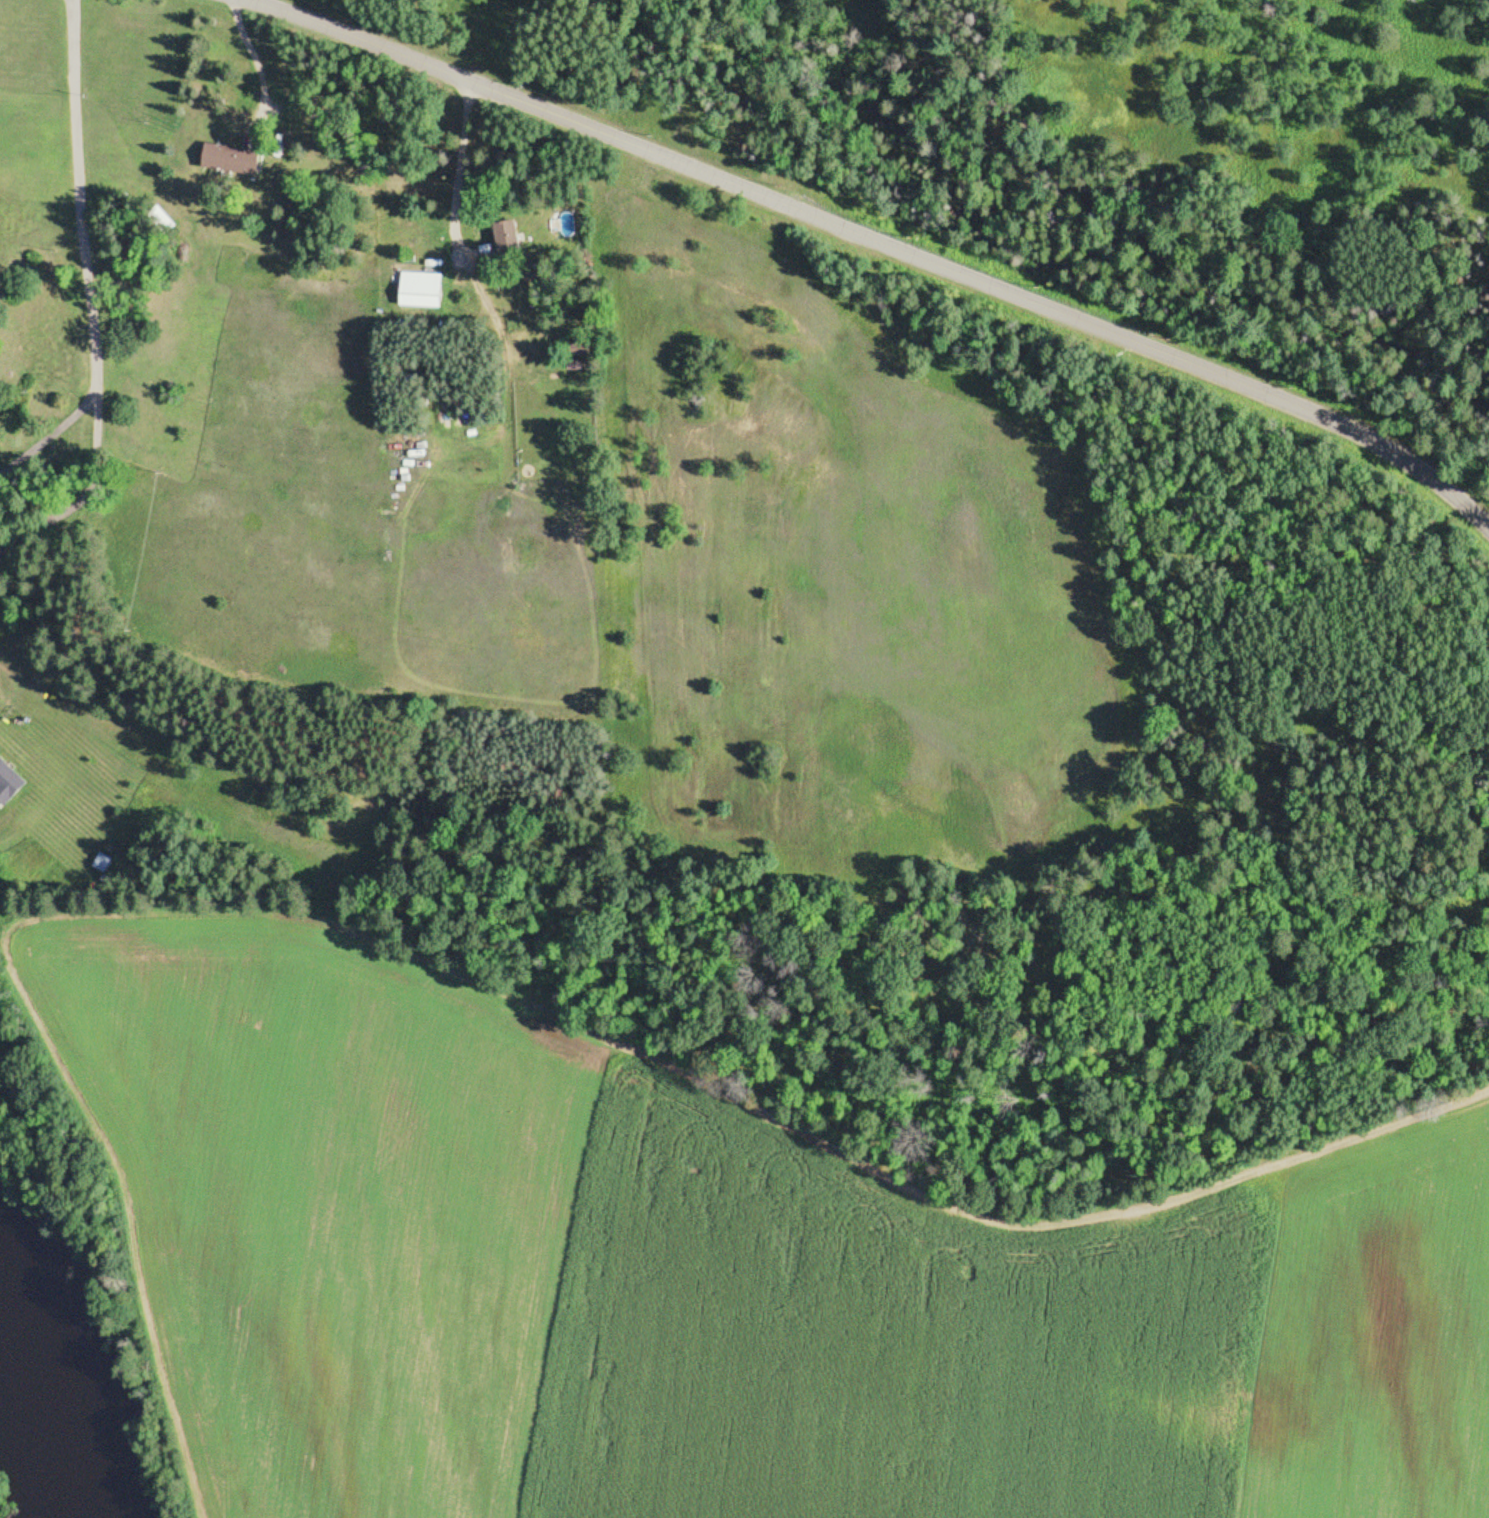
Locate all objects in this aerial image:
park: (432, 34)
building: (236, 161)
building: (504, 243)
road: (877, 244)
road: (84, 248)
building: (421, 292)
road: (52, 430)
building: (9, 785)
river: (58, 1399)

